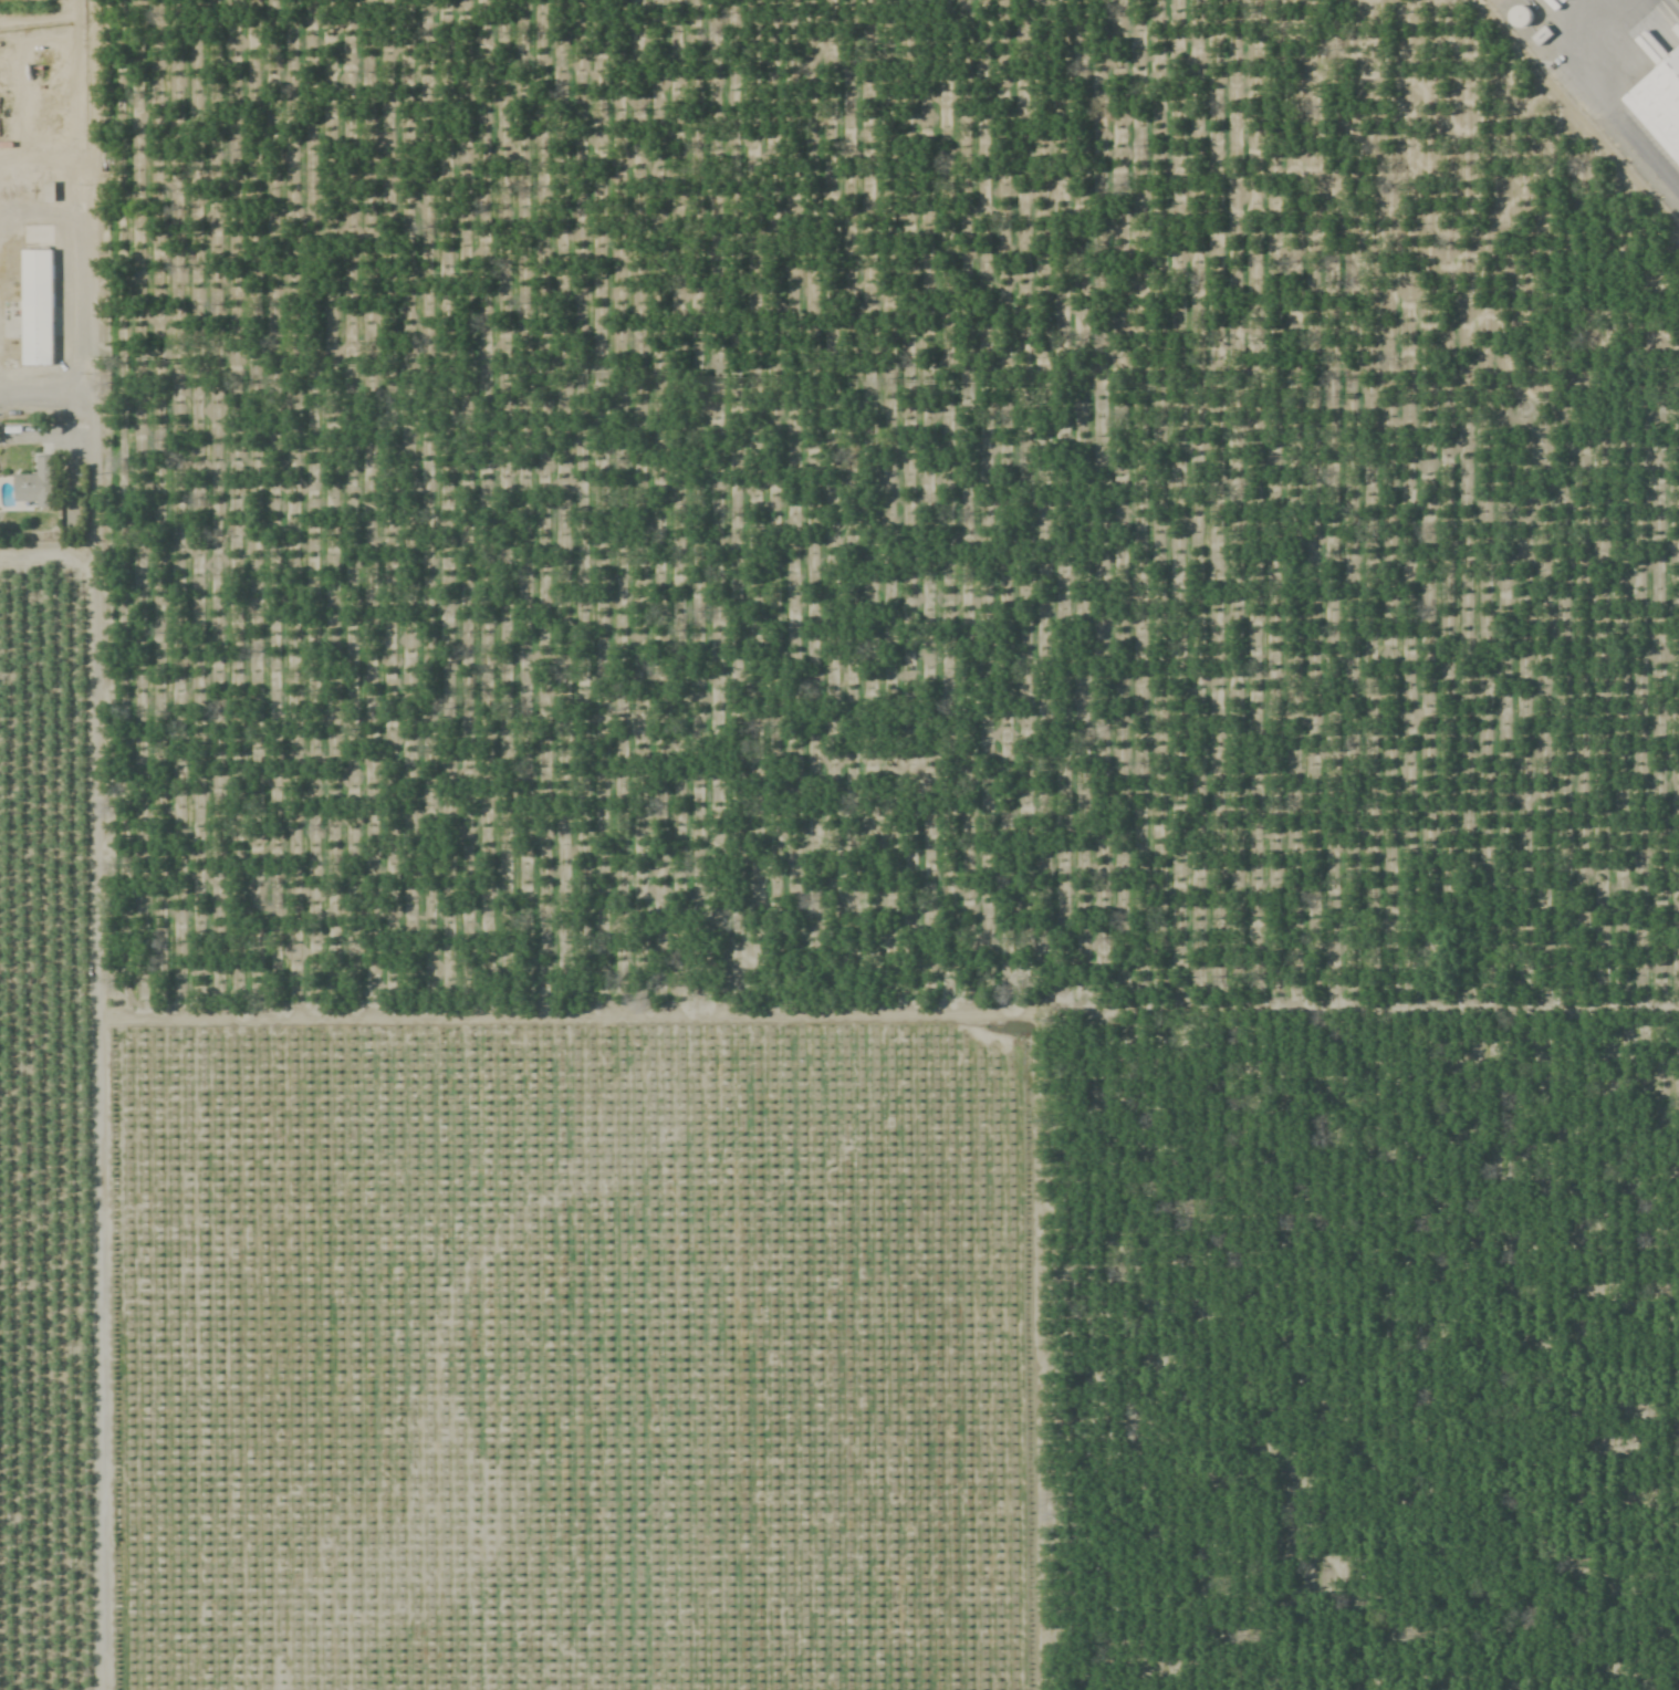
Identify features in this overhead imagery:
building: (1514, 18)
building: (1537, 36)
road: (1602, 95)
building: (1658, 105)
road: (43, 156)
building: (45, 194)
road: (40, 222)
building: (32, 307)
road: (8, 394)
road: (44, 401)
building: (32, 486)
crop: (833, 851)
road: (95, 922)
building: (113, 1206)
building: (114, 1586)

